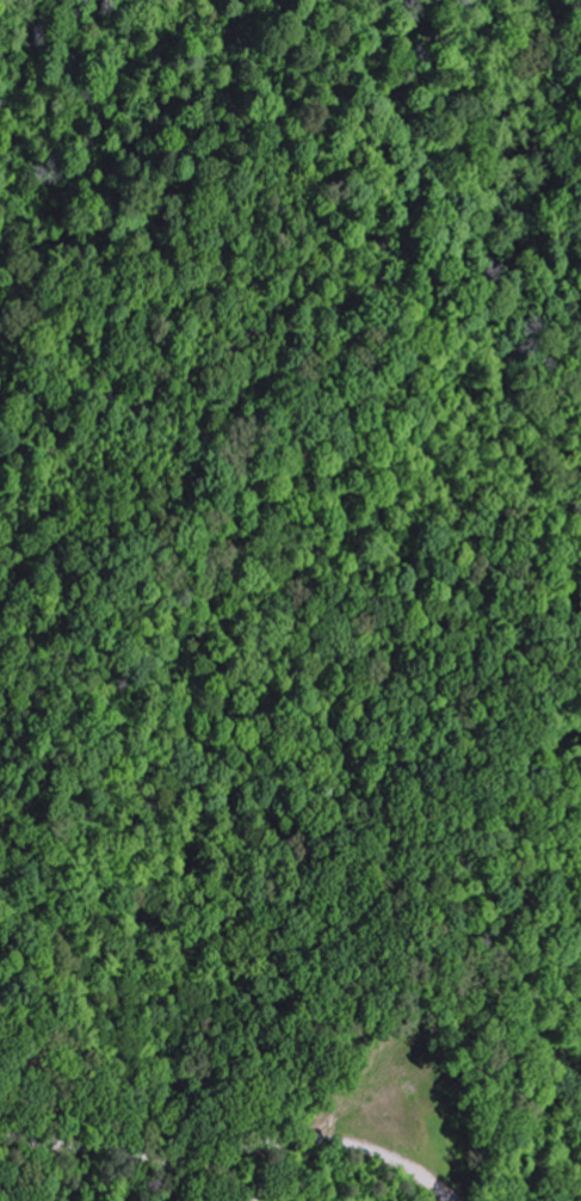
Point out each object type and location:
road: (227, 1159)

